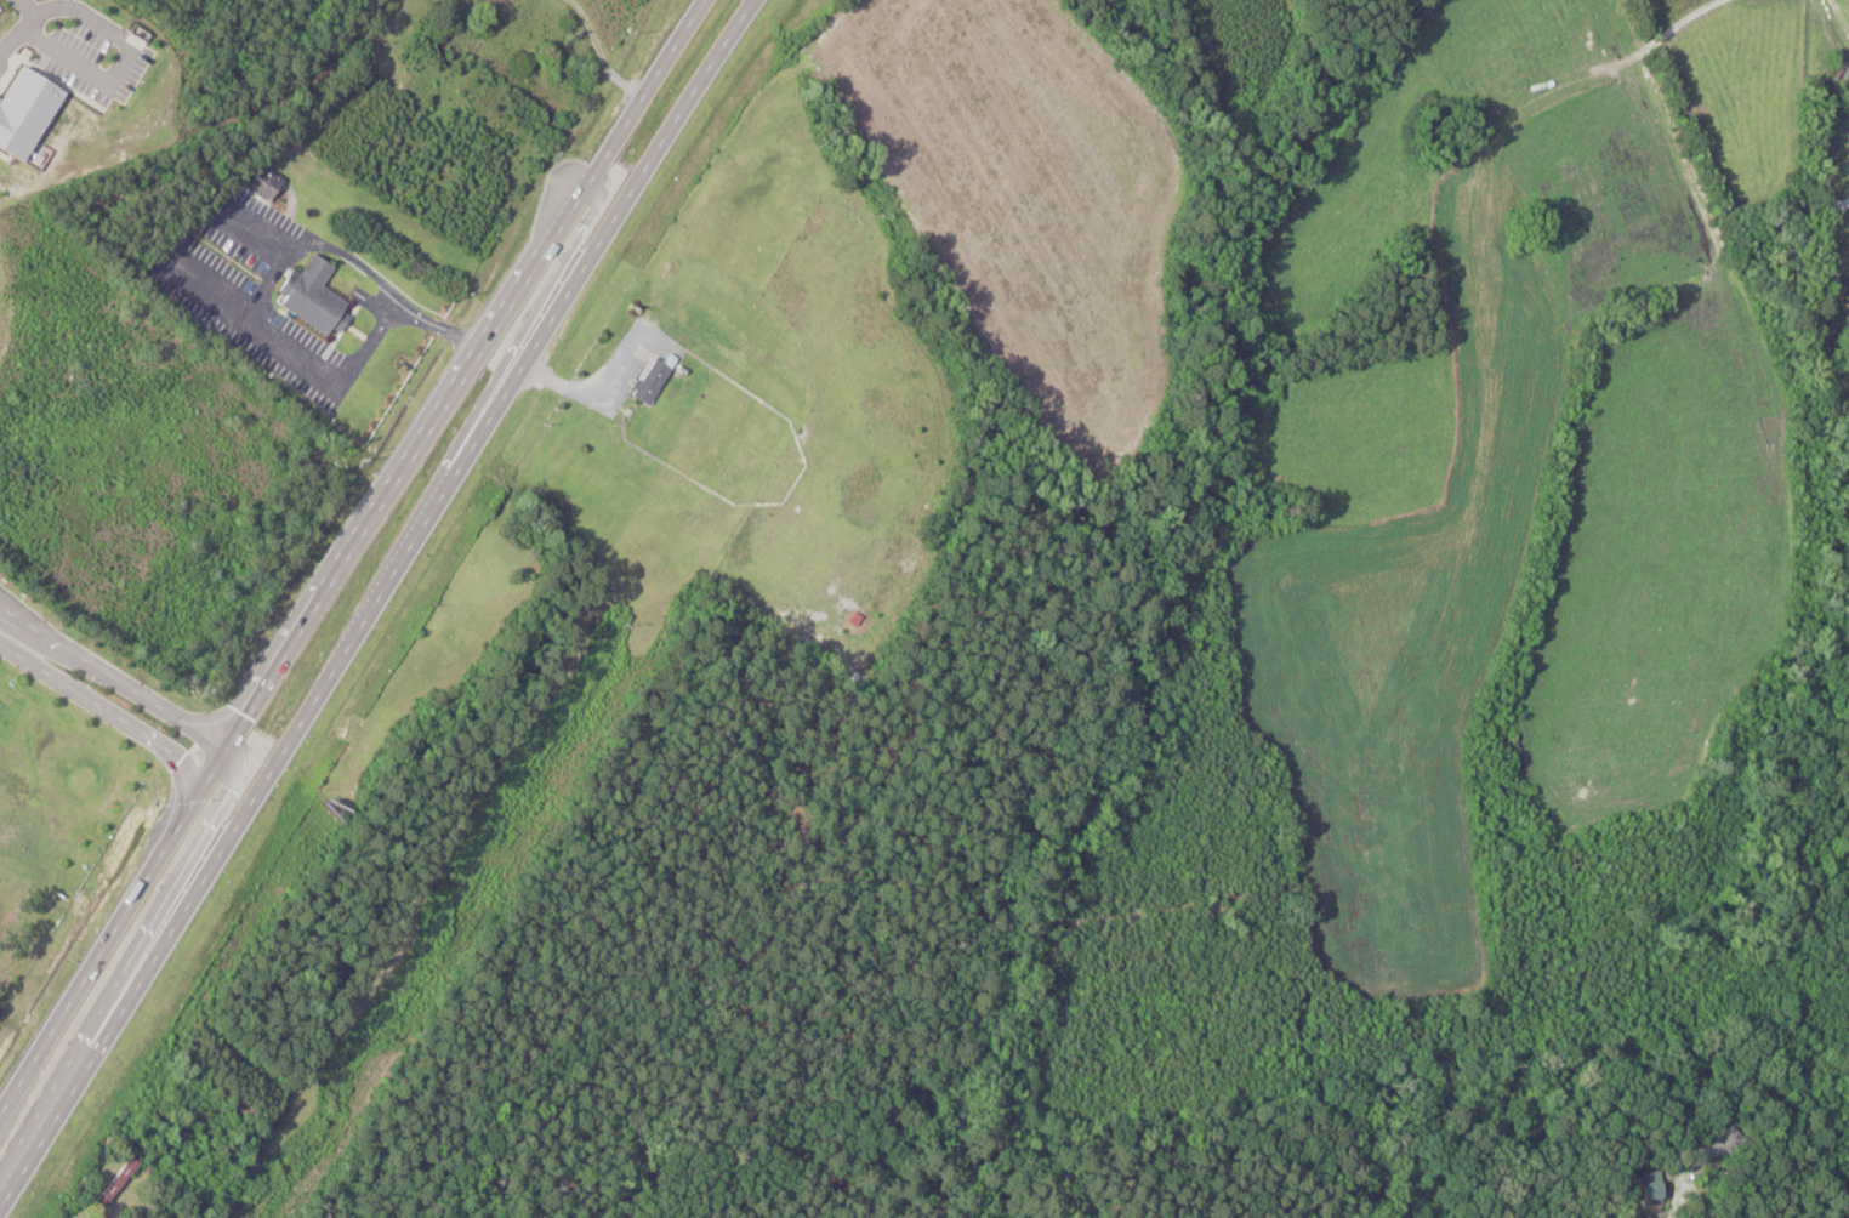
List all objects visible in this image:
building: (396, 74)
building: (262, 183)
building: (1838, 205)
building: (313, 296)
building: (652, 380)
road: (592, 388)
road: (351, 565)
road: (375, 604)
road: (175, 711)
road: (118, 716)
traffic signals: (238, 749)
traffic signals: (198, 818)
road: (1804, 1136)
building: (1703, 1145)
building: (115, 1184)
building: (1646, 1186)

